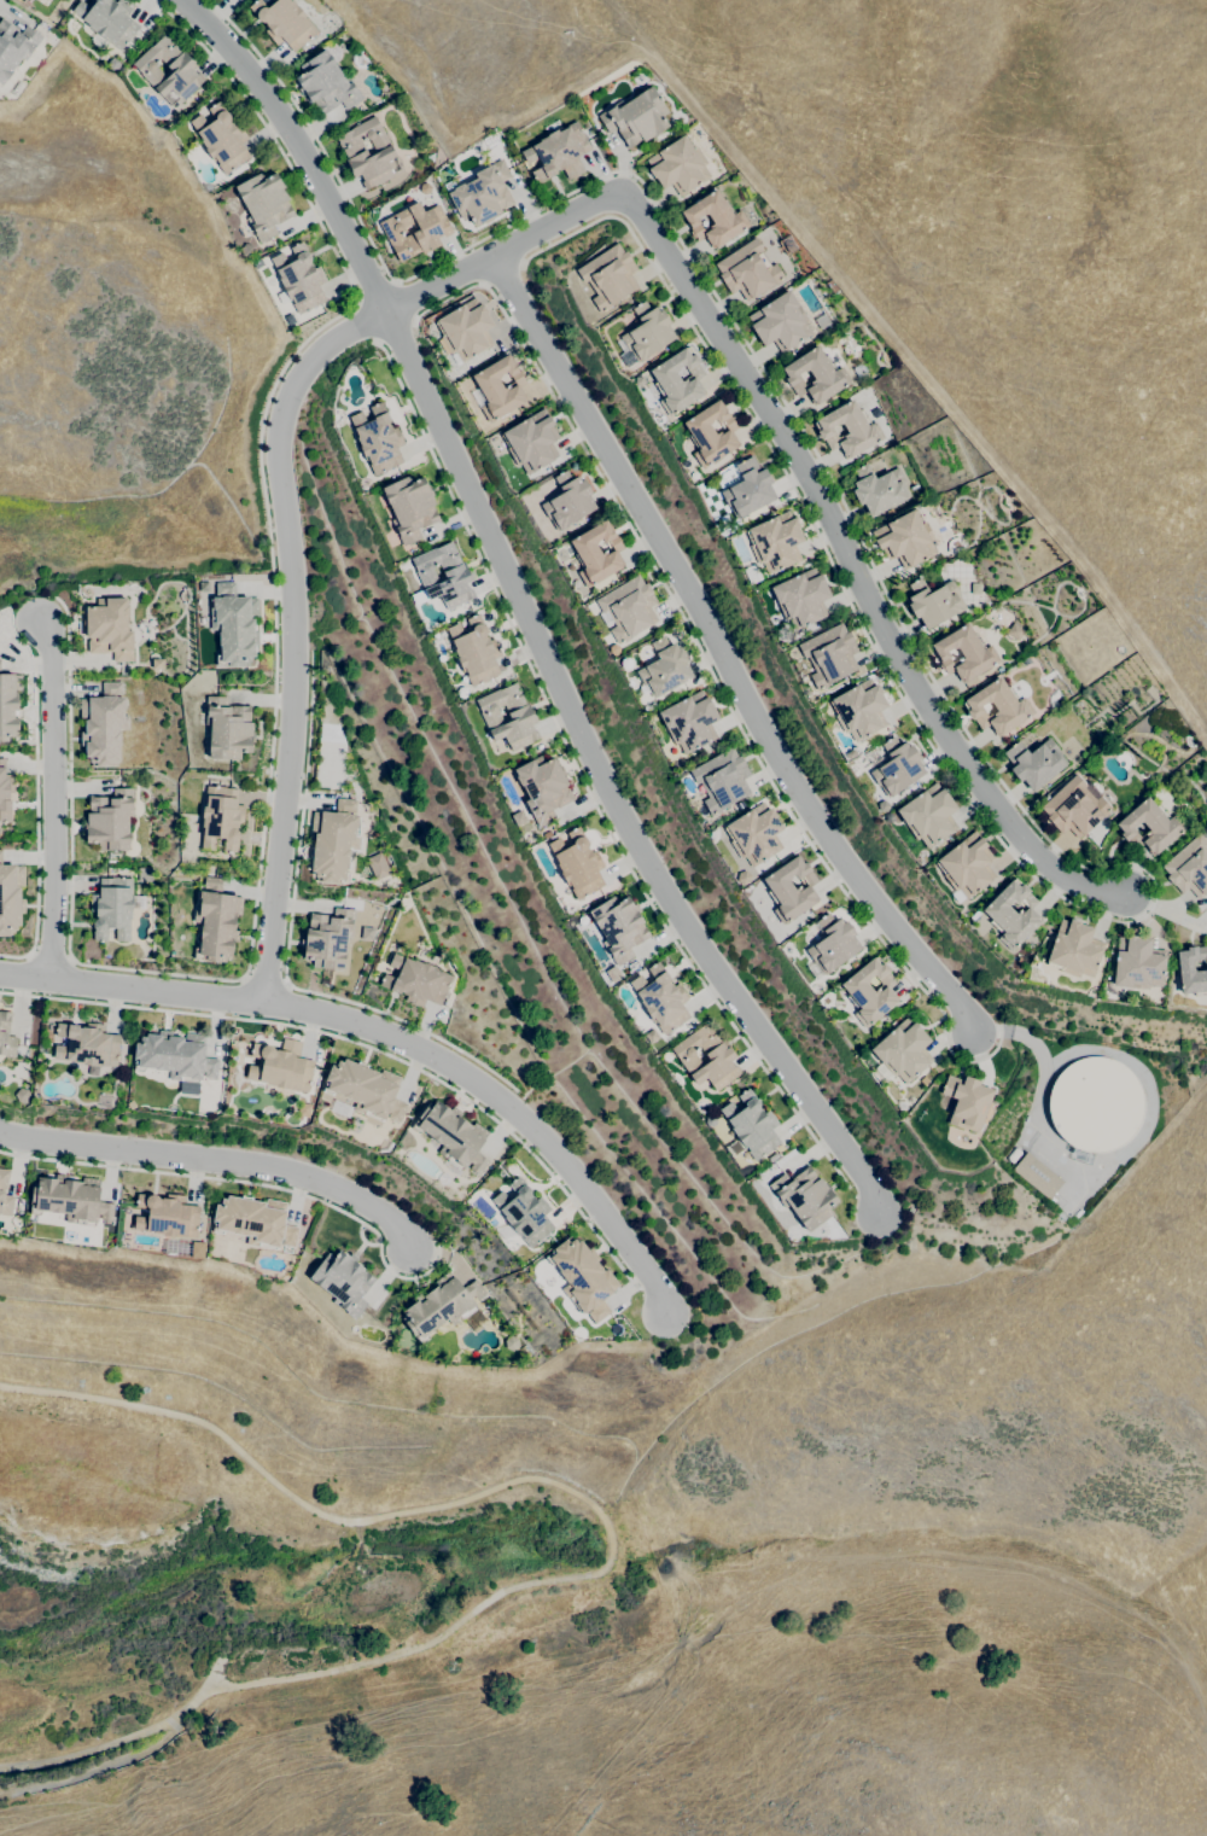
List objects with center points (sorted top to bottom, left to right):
building: (23, 0)
building: (109, 21)
building: (284, 22)
building: (14, 47)
building: (180, 68)
building: (326, 83)
building: (636, 117)
building: (222, 139)
road: (301, 144)
building: (559, 152)
building: (355, 153)
building: (678, 165)
building: (483, 194)
building: (264, 204)
building: (713, 218)
building: (431, 233)
building: (258, 263)
building: (748, 270)
building: (608, 276)
building: (299, 279)
road: (373, 288)
road: (407, 299)
road: (367, 321)
building: (780, 322)
building: (466, 330)
road: (396, 331)
building: (647, 332)
building: (815, 375)
building: (640, 380)
building: (677, 380)
building: (497, 389)
building: (849, 430)
building: (711, 433)
building: (378, 439)
building: (531, 442)
building: (748, 489)
building: (879, 489)
road: (281, 499)
building: (568, 501)
building: (410, 507)
building: (905, 538)
building: (775, 542)
building: (596, 554)
road: (850, 565)
building: (752, 573)
building: (457, 576)
building: (801, 598)
building: (934, 602)
building: (629, 608)
building: (234, 625)
building: (110, 629)
building: (474, 651)
road: (722, 651)
building: (963, 653)
building: (829, 655)
road: (11, 659)
building: (665, 668)
road: (712, 674)
building: (462, 693)
building: (10, 705)
building: (997, 707)
road: (273, 710)
building: (859, 710)
building: (508, 717)
building: (689, 721)
building: (104, 725)
building: (228, 729)
road: (979, 753)
building: (850, 754)
building: (1034, 763)
building: (897, 768)
road: (603, 779)
building: (722, 780)
road: (583, 781)
building: (543, 788)
building: (5, 793)
road: (54, 798)
building: (1074, 808)
road: (36, 812)
building: (928, 815)
building: (518, 817)
building: (221, 818)
building: (110, 821)
building: (1149, 826)
building: (547, 834)
building: (754, 834)
building: (334, 841)
building: (578, 864)
building: (375, 865)
building: (967, 865)
building: (1189, 867)
building: (791, 888)
building: (10, 897)
building: (112, 908)
road: (1165, 909)
building: (1013, 914)
building: (216, 921)
building: (619, 927)
building: (328, 939)
road: (287, 944)
building: (833, 944)
building: (1074, 949)
road: (13, 955)
building: (1138, 963)
building: (1191, 971)
road: (244, 979)
building: (416, 980)
road: (264, 984)
road: (286, 985)
road: (132, 986)
building: (870, 991)
building: (660, 998)
building: (6, 1036)
building: (651, 1036)
building: (87, 1045)
road: (363, 1045)
building: (903, 1050)
building: (175, 1056)
building: (719, 1059)
building: (281, 1066)
building: (366, 1089)
building: (967, 1101)
building: (1096, 1104)
road: (506, 1107)
building: (710, 1120)
building: (752, 1125)
building: (453, 1136)
building: (772, 1156)
road: (216, 1161)
building: (1037, 1176)
road: (243, 1182)
building: (1, 1191)
building: (805, 1197)
building: (71, 1200)
building: (524, 1212)
building: (167, 1216)
building: (255, 1222)
road: (444, 1253)
building: (583, 1277)
building: (343, 1281)
road: (629, 1290)
building: (441, 1305)
park: (269, 1516)
road: (613, 1538)

